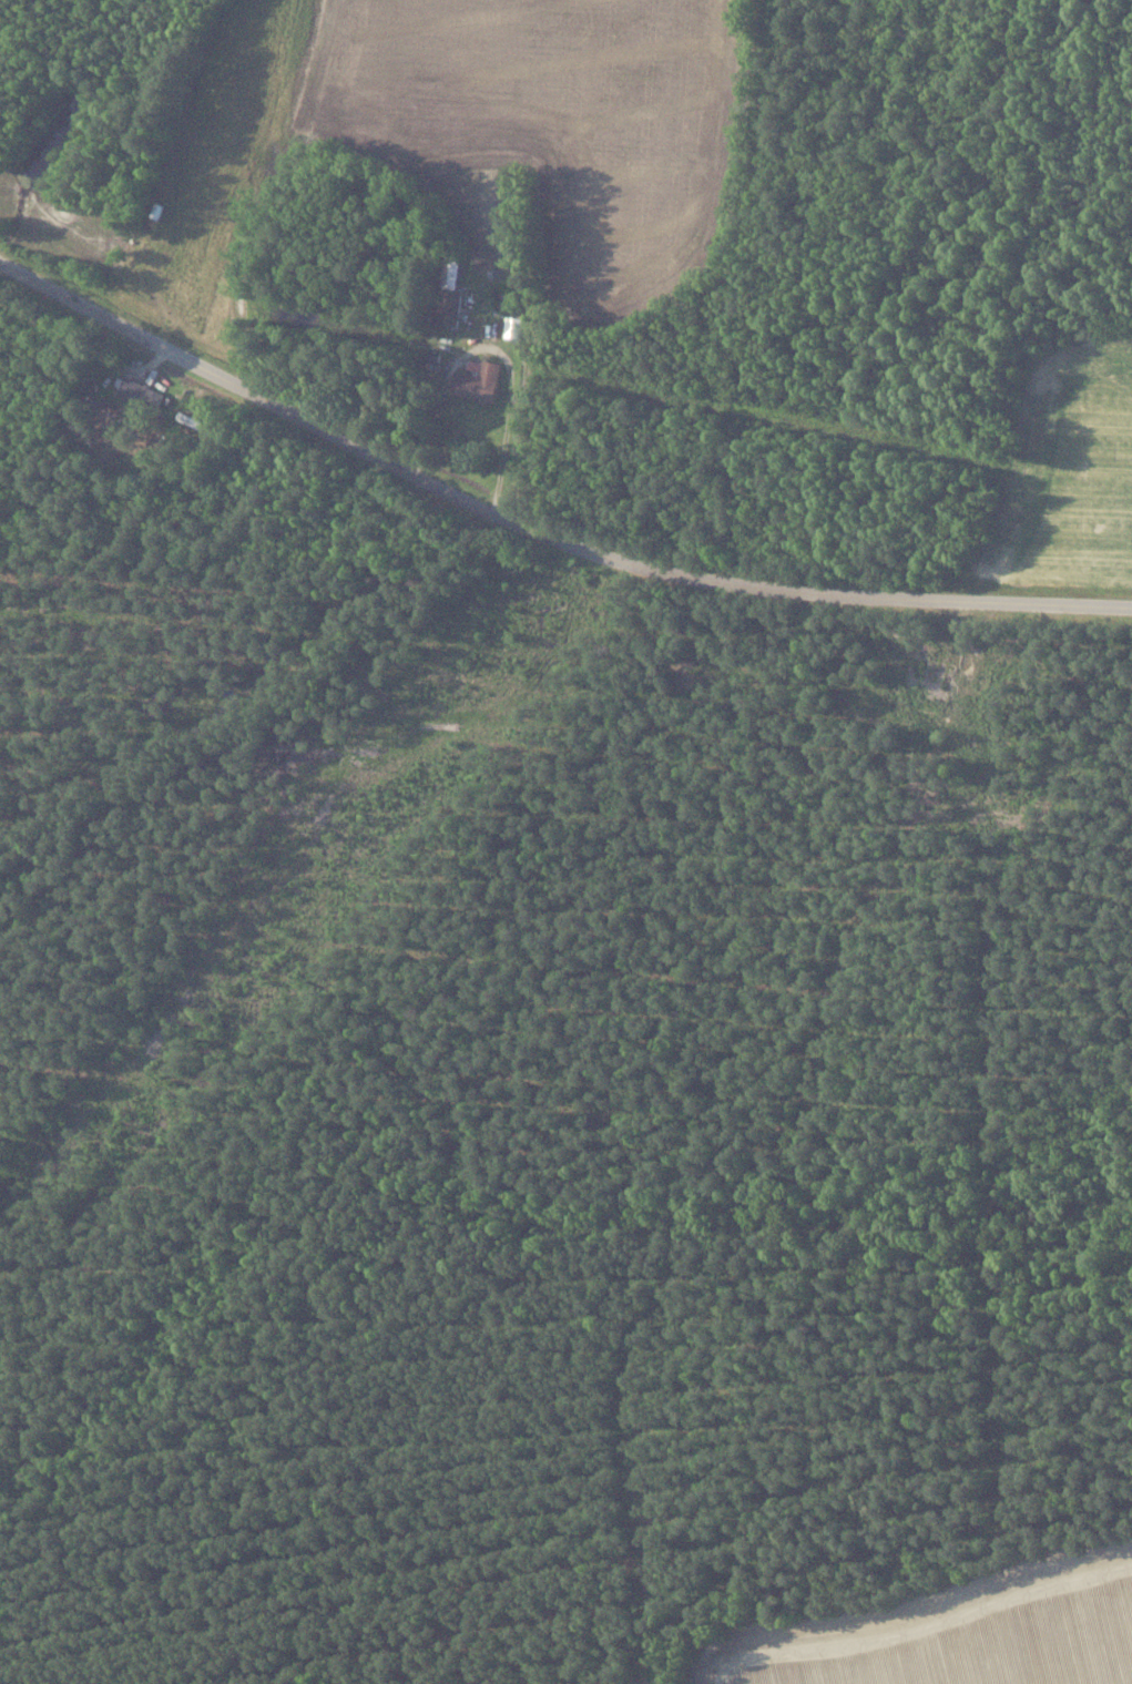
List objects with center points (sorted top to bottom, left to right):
crop: (540, 119)
building: (452, 268)
building: (449, 304)
building: (516, 327)
road: (150, 363)
building: (482, 380)
building: (144, 392)
road: (509, 412)
building: (192, 419)
crop: (1069, 472)
road: (538, 532)
crop: (956, 1633)

